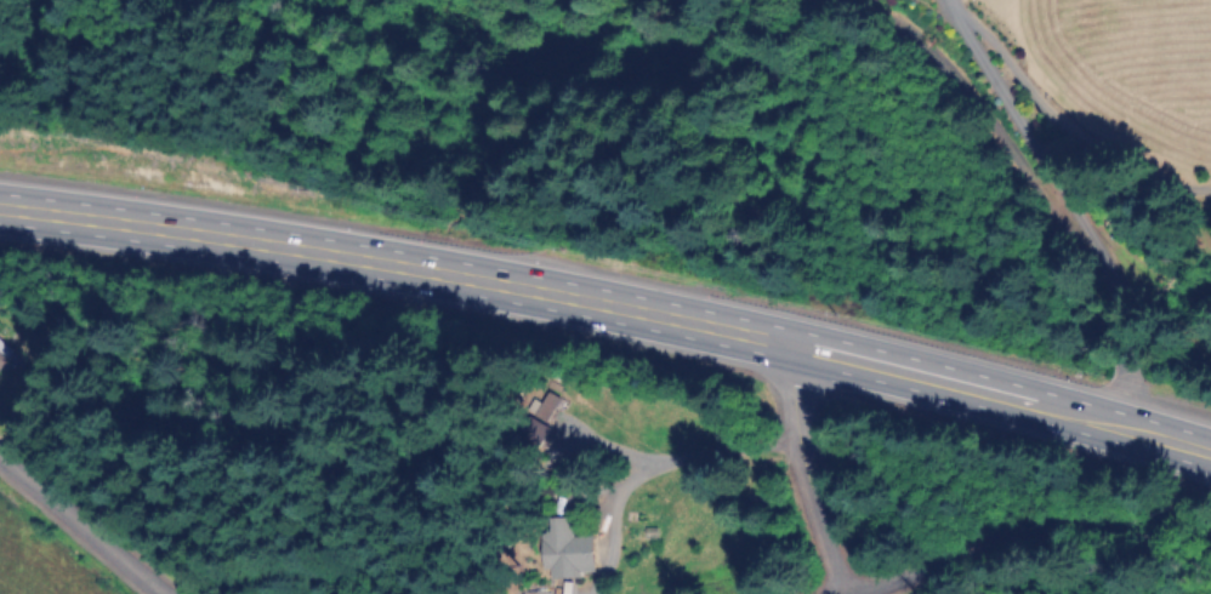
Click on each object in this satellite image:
road: (1062, 202)
road: (610, 303)
road: (801, 469)
road: (87, 525)
road: (1019, 530)

